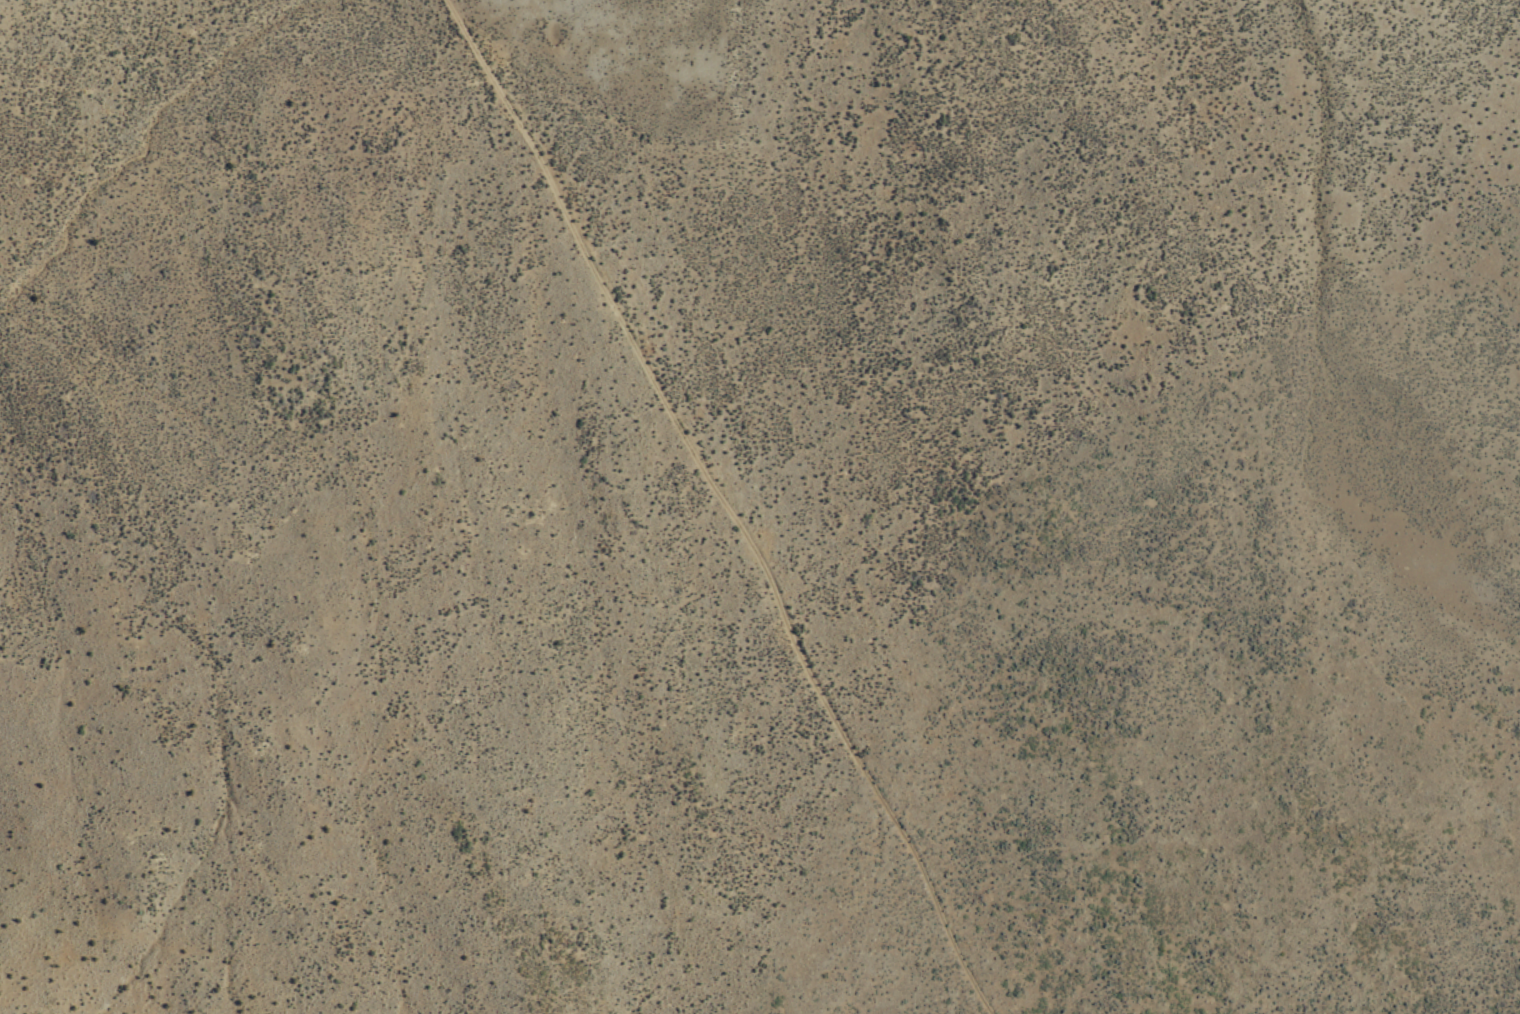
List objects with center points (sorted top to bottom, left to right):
crop: (1432, 76)

